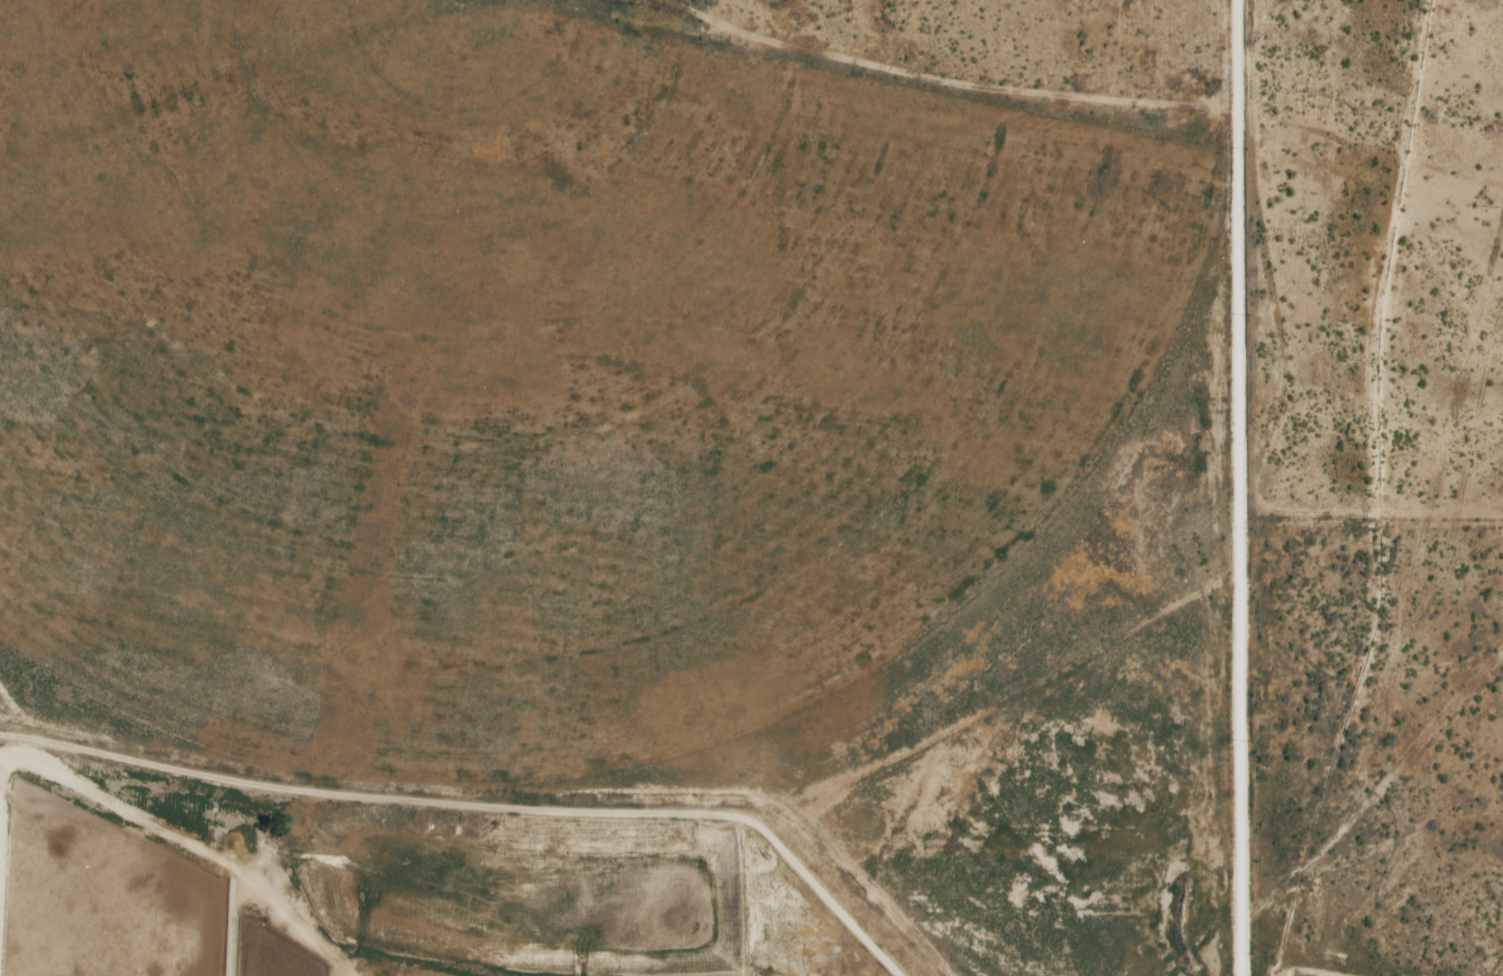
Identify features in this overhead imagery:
road: (1241, 488)

